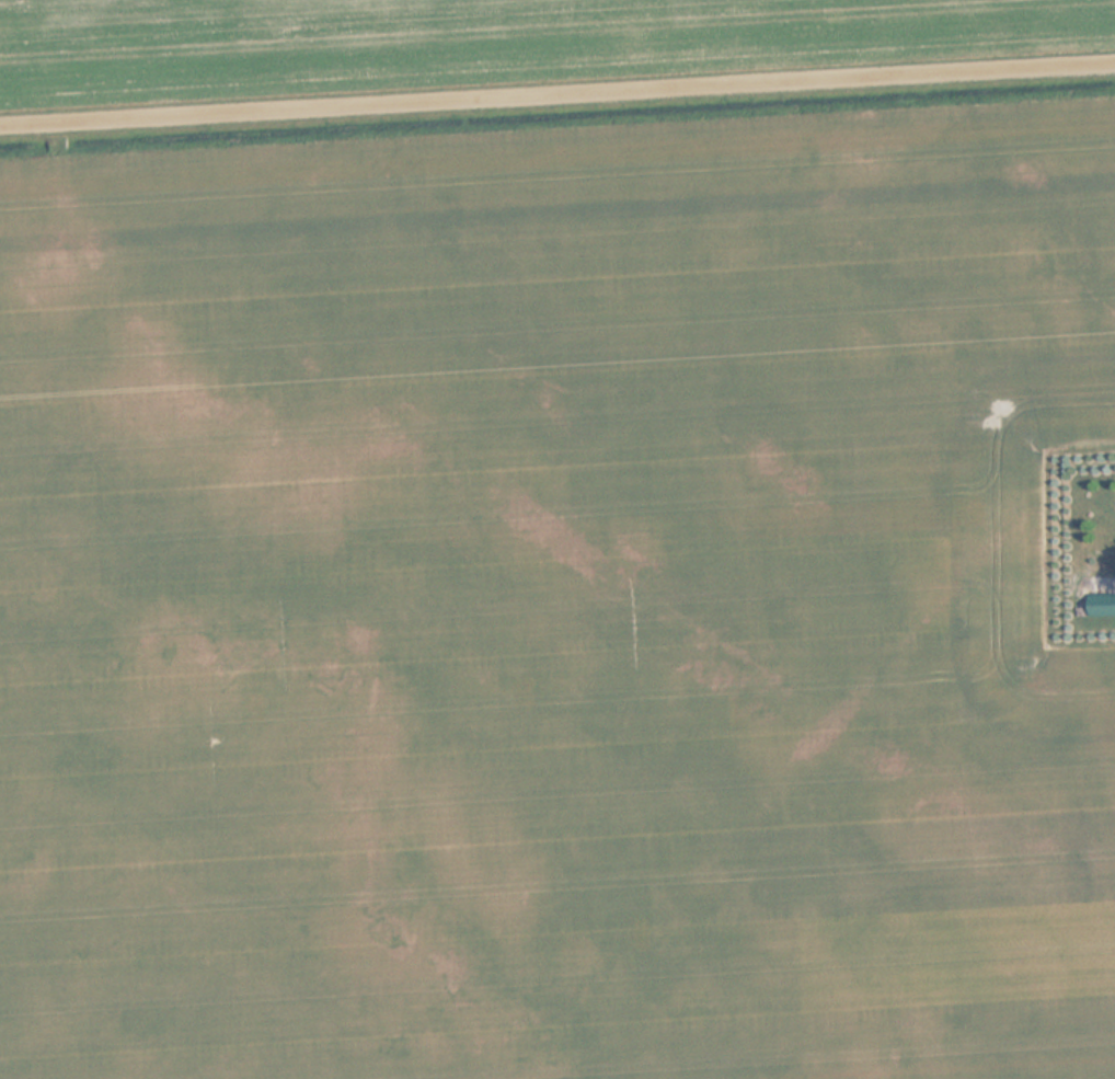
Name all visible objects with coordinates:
road: (557, 92)
building: (1102, 605)

